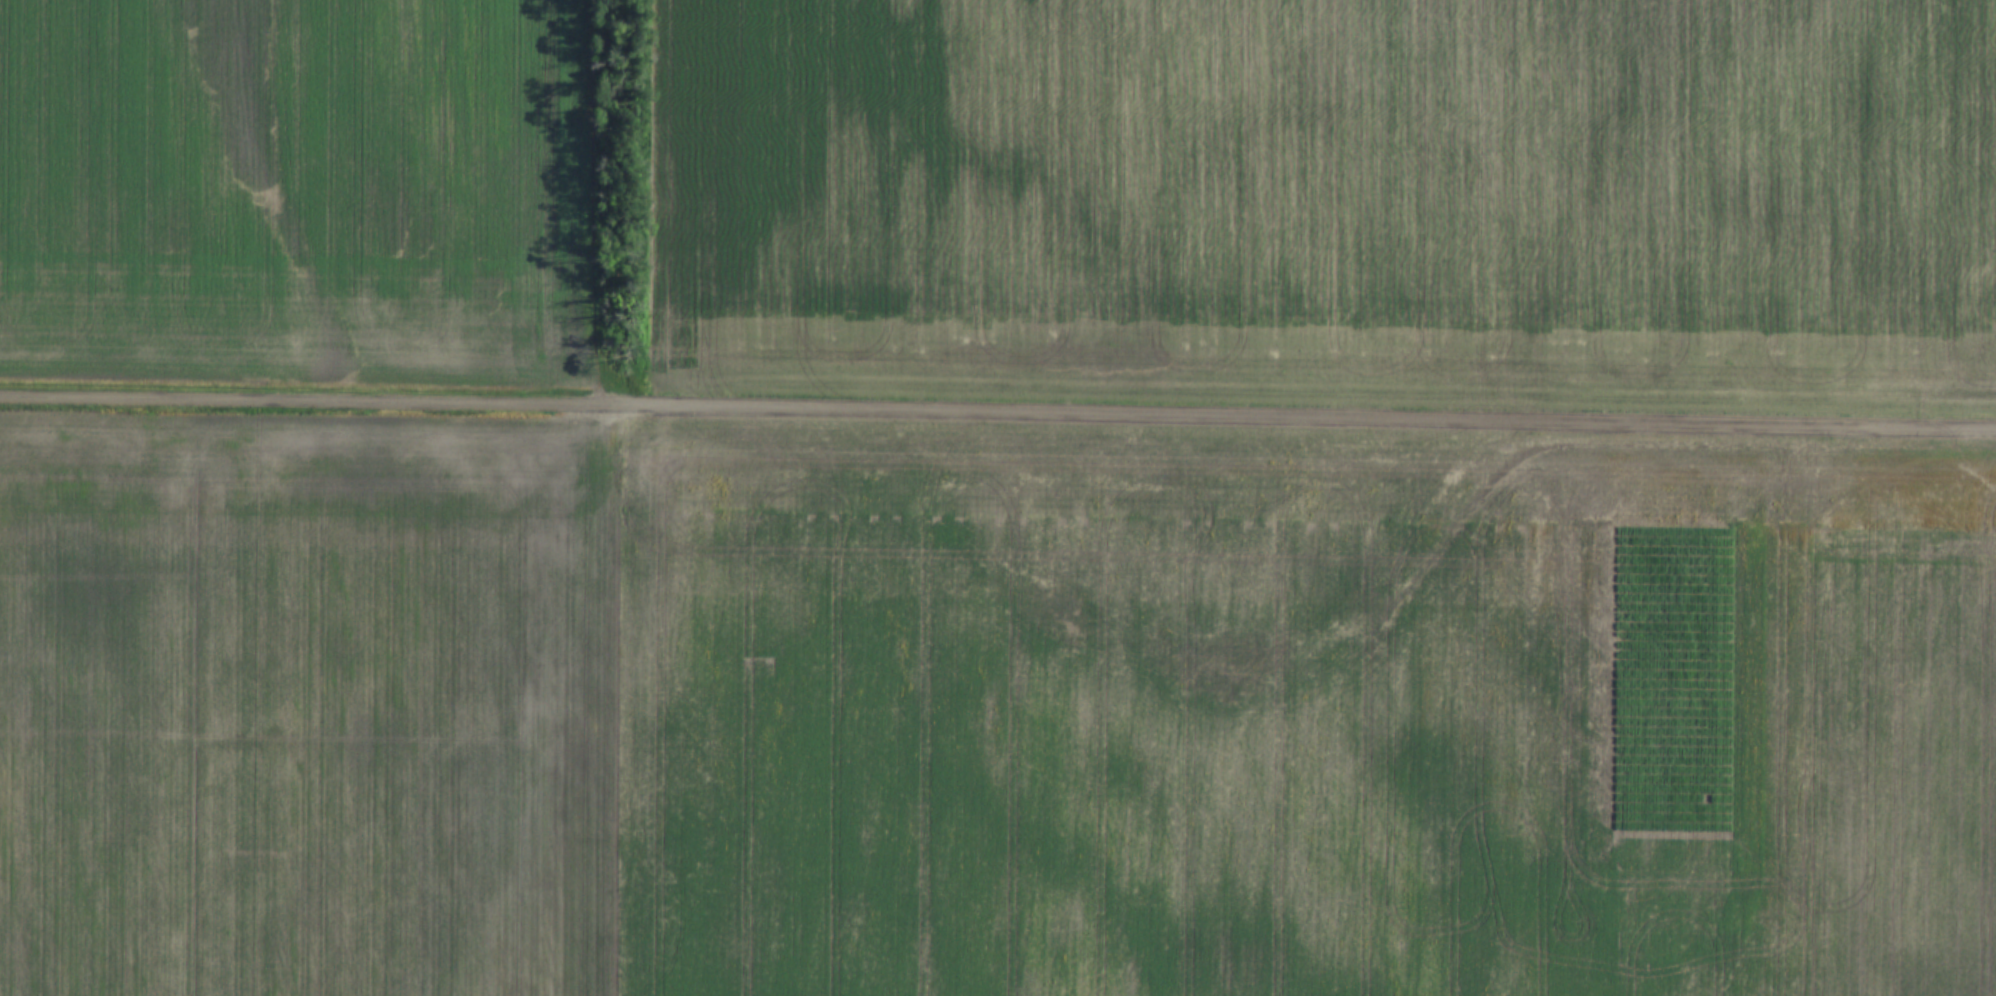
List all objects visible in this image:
road: (998, 414)

